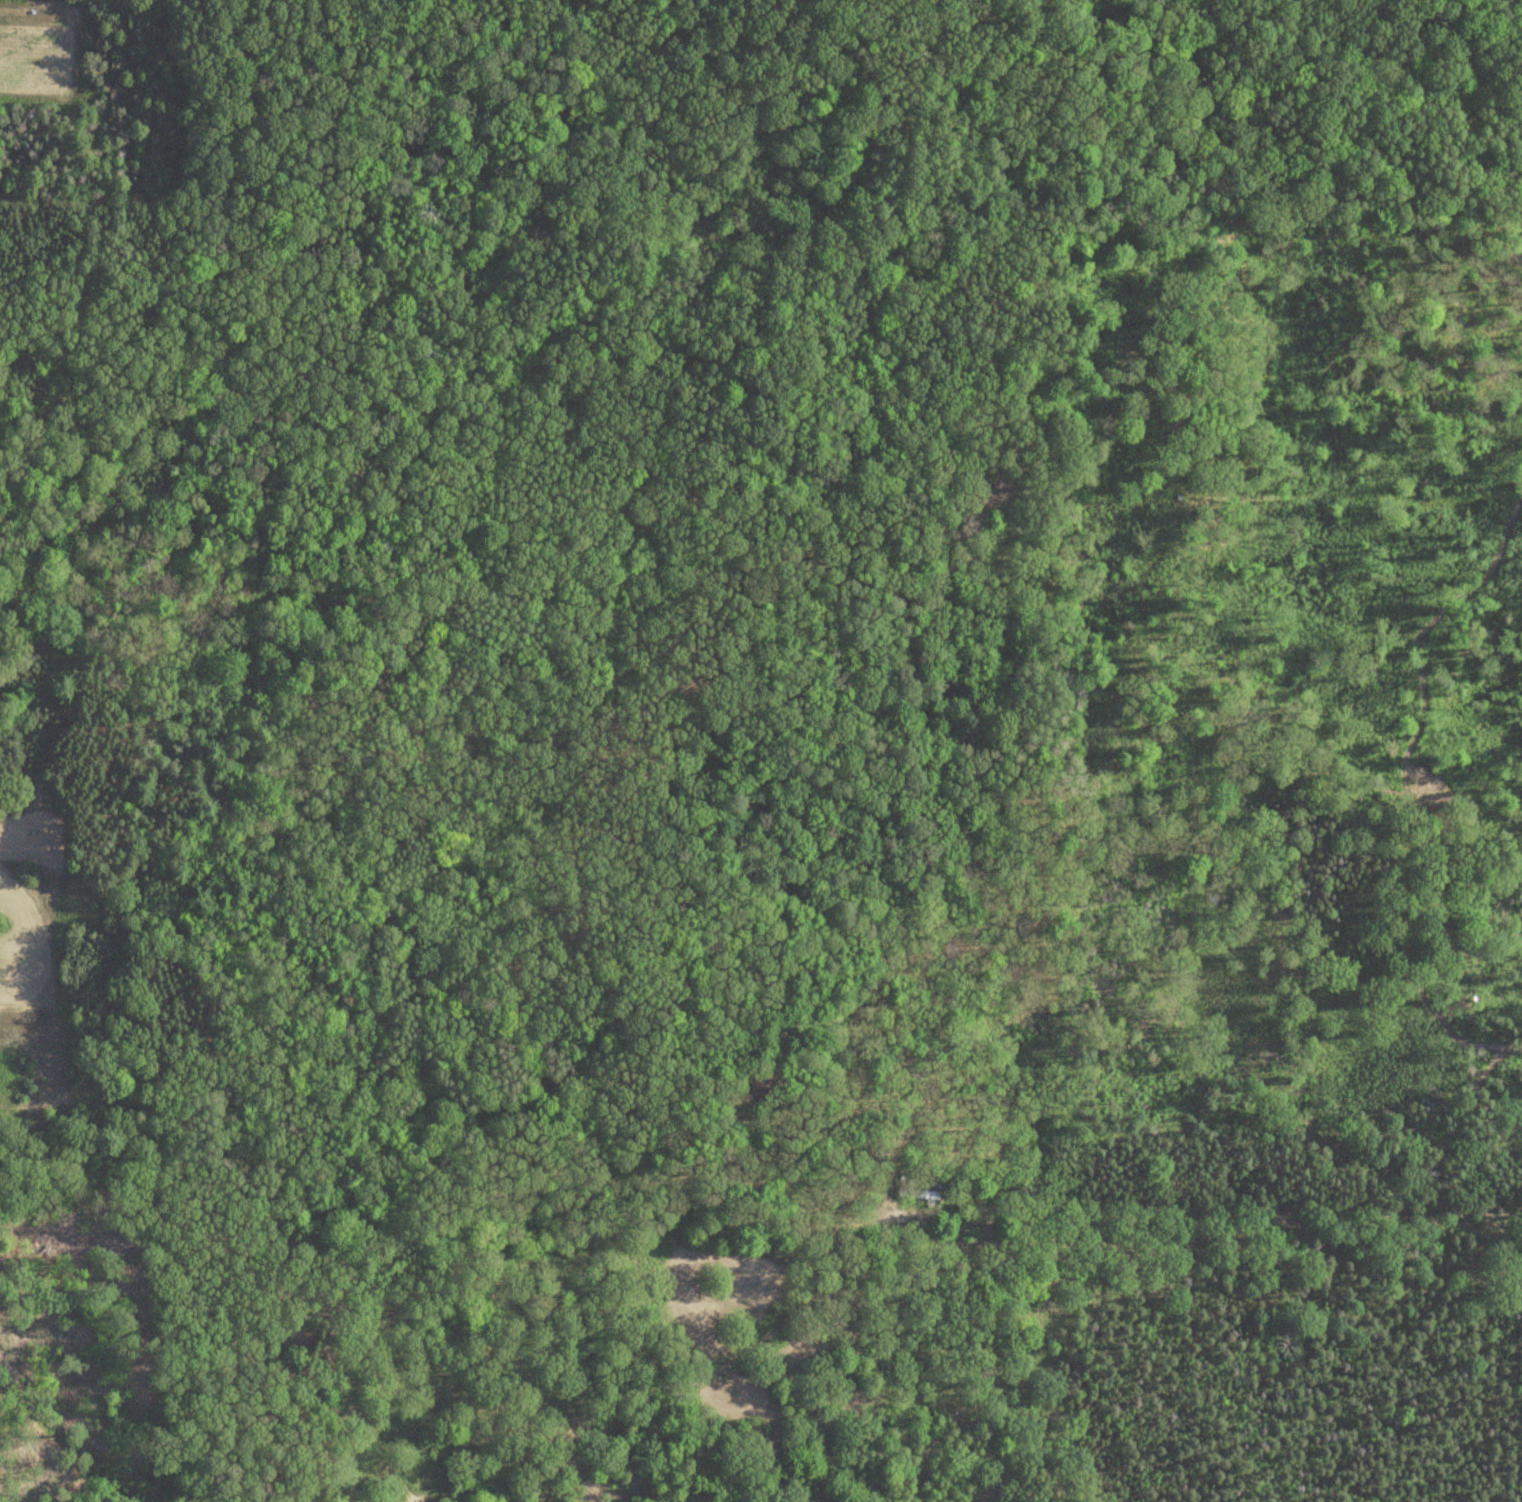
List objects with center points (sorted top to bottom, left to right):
building: (920, 1194)

